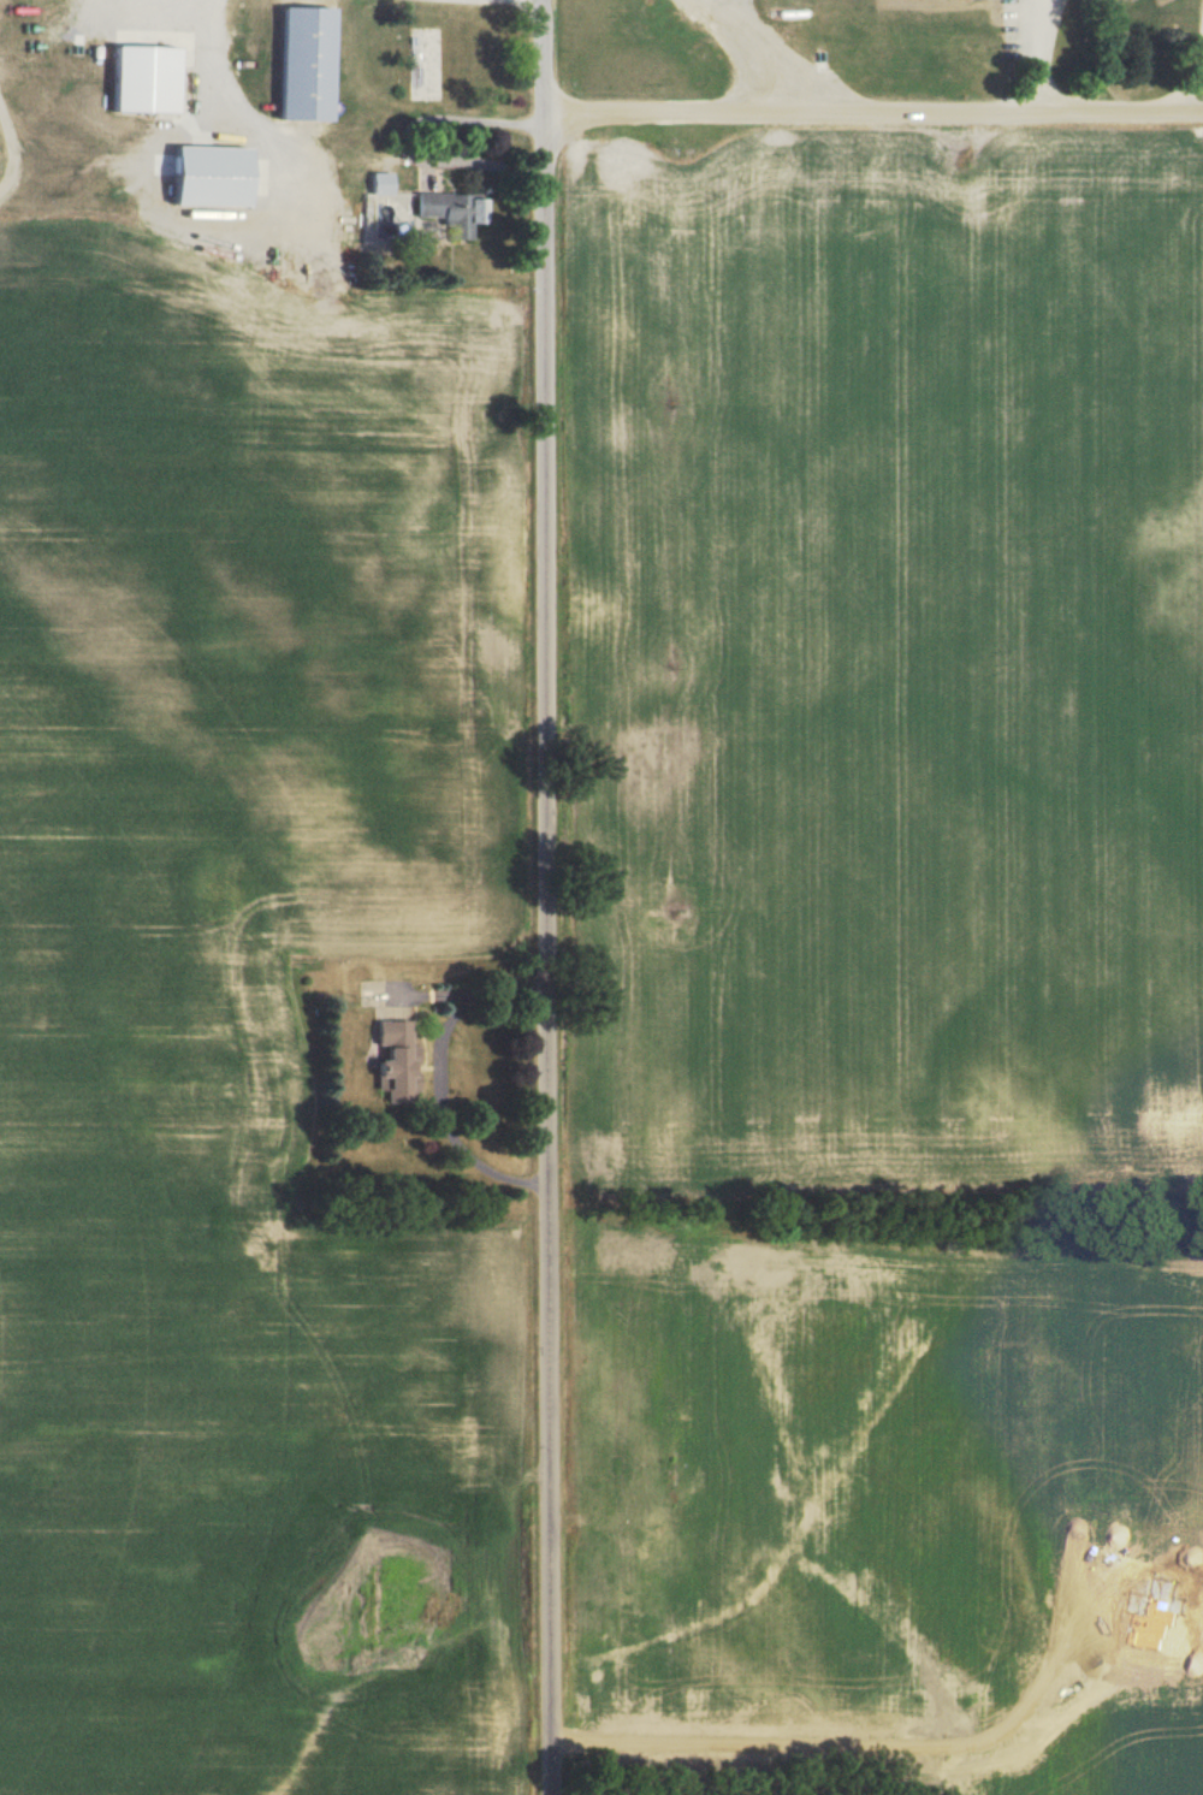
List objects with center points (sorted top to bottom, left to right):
building: (150, 77)
road: (873, 109)
building: (213, 173)
building: (386, 182)
building: (458, 209)
road: (545, 896)
building: (403, 1061)

